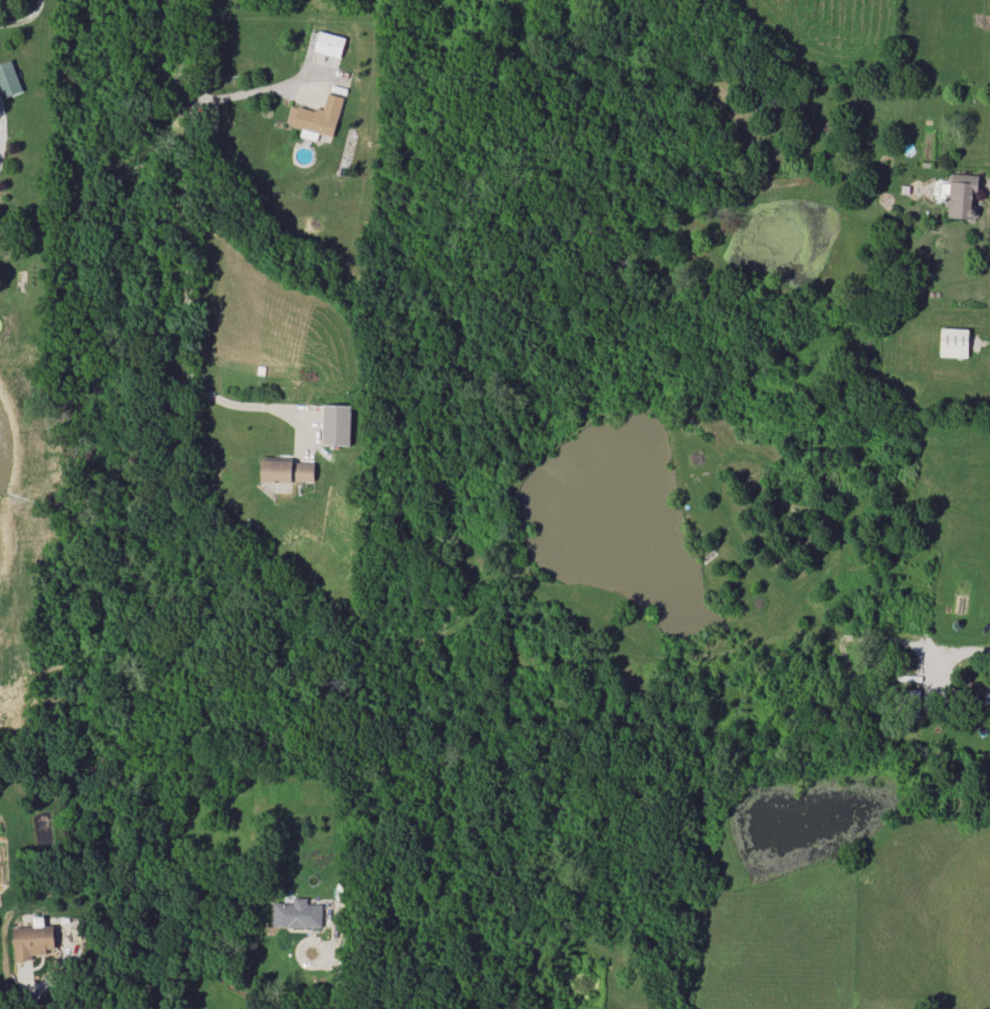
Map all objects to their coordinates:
building: (0, 0)
building: (329, 44)
building: (9, 79)
road: (260, 90)
building: (316, 118)
building: (961, 199)
road: (190, 234)
building: (954, 342)
building: (337, 425)
building: (288, 471)
building: (978, 693)
building: (297, 914)
building: (32, 940)
road: (335, 971)
road: (30, 996)

